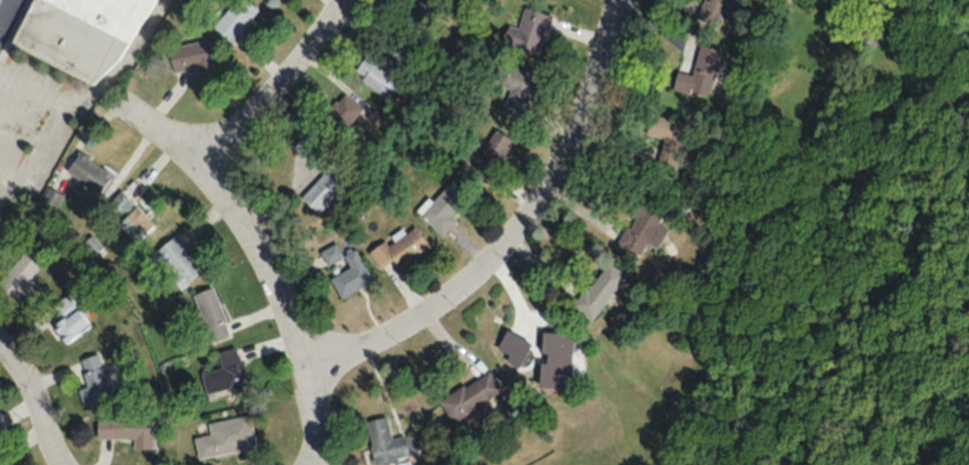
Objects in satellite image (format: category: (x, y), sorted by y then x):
parking lot: (3, 8)
building: (119, 10)
road: (5, 12)
building: (715, 12)
building: (419, 16)
building: (236, 19)
building: (527, 31)
building: (394, 48)
building: (192, 56)
building: (699, 72)
building: (379, 77)
building: (513, 86)
road: (274, 91)
road: (88, 94)
building: (414, 102)
building: (343, 110)
building: (665, 136)
building: (486, 155)
building: (88, 172)
building: (445, 206)
building: (129, 217)
road: (512, 230)
building: (642, 231)
building: (398, 248)
building: (175, 262)
road: (262, 265)
building: (350, 274)
building: (21, 276)
park: (883, 285)
building: (599, 290)
building: (211, 314)
building: (68, 320)
building: (546, 357)
building: (225, 374)
building: (93, 379)
building: (469, 395)
road: (34, 403)
building: (127, 429)
building: (225, 436)
building: (385, 441)
park: (331, 462)

